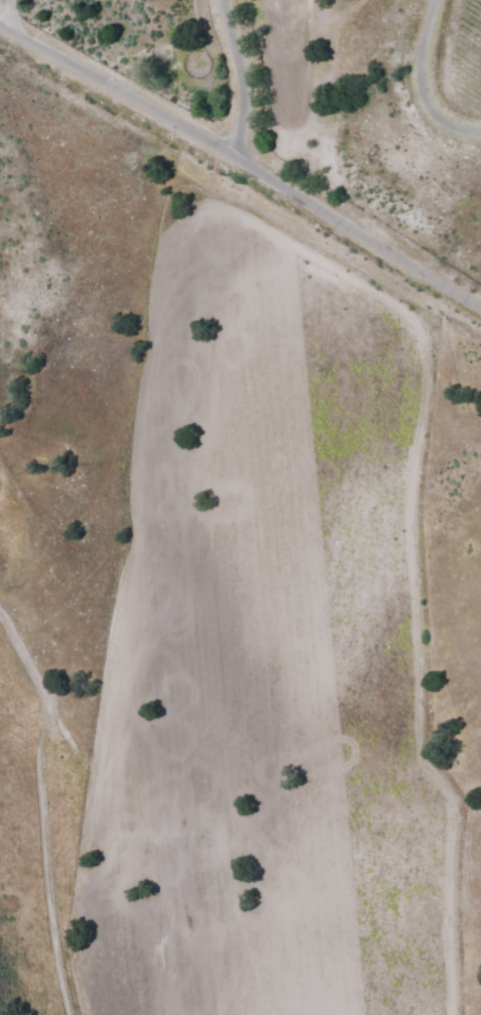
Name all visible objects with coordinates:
road: (241, 84)
road: (241, 162)
crop: (283, 642)

